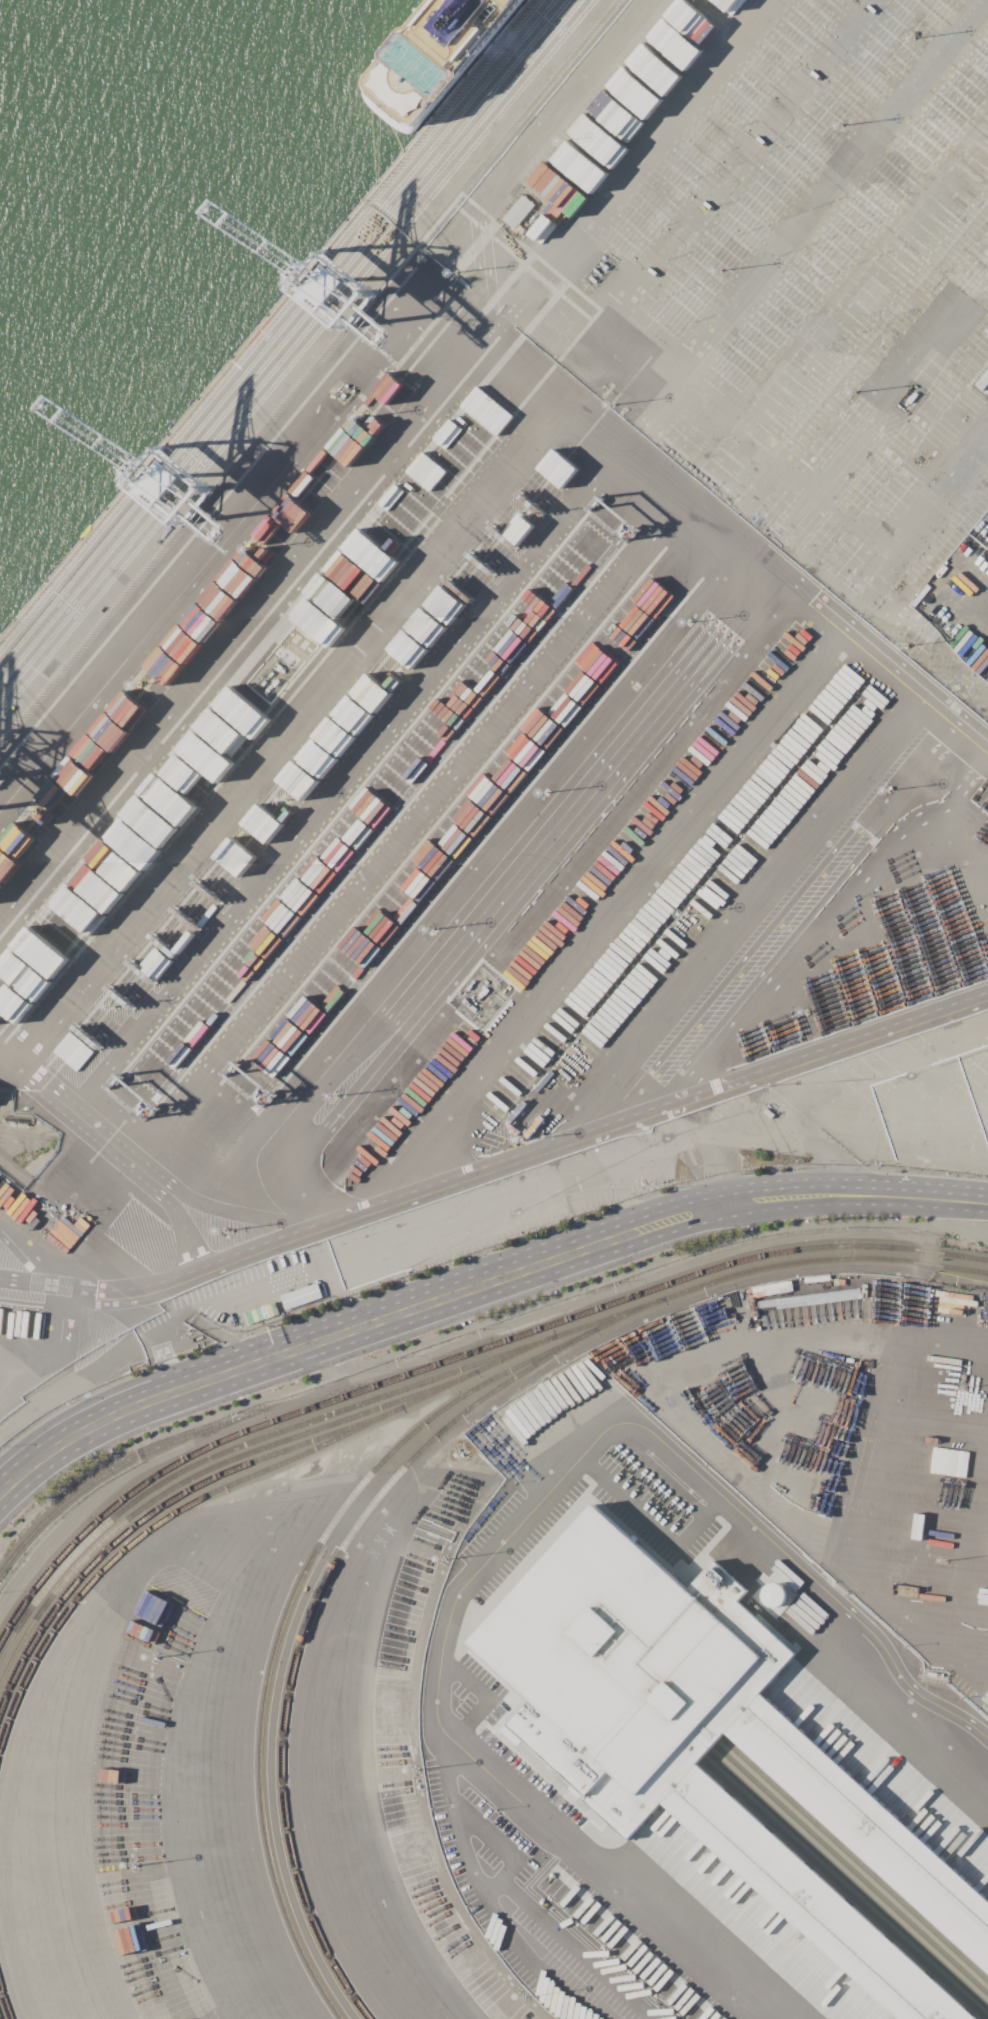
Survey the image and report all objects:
road: (551, 101)
building: (518, 212)
road: (434, 234)
road: (894, 386)
building: (388, 389)
road: (735, 443)
road: (385, 452)
road: (201, 499)
road: (694, 509)
building: (674, 557)
road: (527, 566)
building: (696, 571)
road: (970, 595)
building: (287, 656)
road: (286, 733)
road: (407, 829)
road: (494, 896)
road: (748, 908)
road: (605, 913)
road: (809, 1133)
road: (528, 1154)
road: (128, 1155)
road: (820, 1196)
road: (927, 1200)
road: (27, 1260)
road: (33, 1284)
road: (459, 1295)
road: (225, 1298)
road: (475, 1327)
road: (60, 1354)
railway: (454, 1357)
road: (166, 1363)
railway: (339, 1371)
railway: (451, 1372)
road: (29, 1378)
road: (75, 1383)
road: (685, 1418)
railway: (183, 1440)
road: (68, 1442)
road: (873, 1446)
railway: (193, 1476)
railway: (220, 1490)
railway: (152, 1514)
road: (224, 1523)
road: (506, 1535)
railway: (323, 1592)
railway: (290, 1619)
building: (985, 1698)
road: (338, 1719)
building: (706, 1740)
road: (463, 1844)
road: (497, 1845)
railway: (855, 1860)
railway: (851, 1870)
railway: (848, 1880)
railway: (843, 1890)
road: (575, 1948)
railway: (6, 1998)

